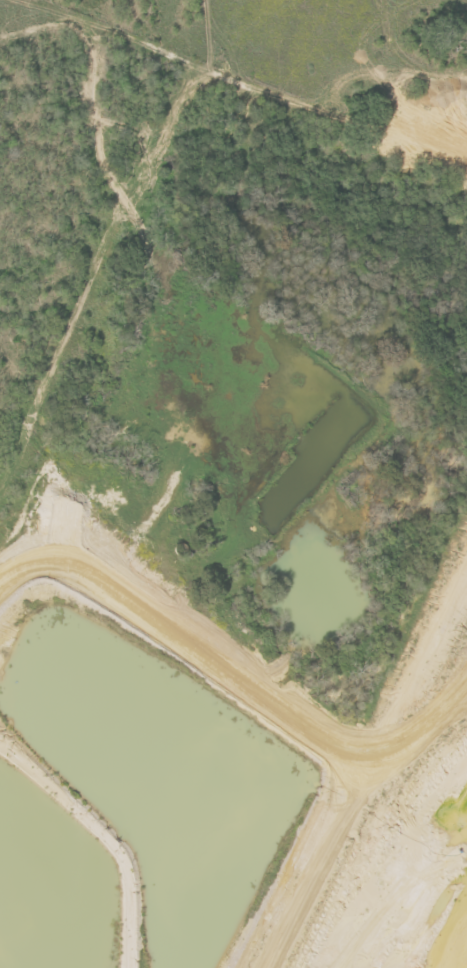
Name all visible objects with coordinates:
road: (241, 86)

